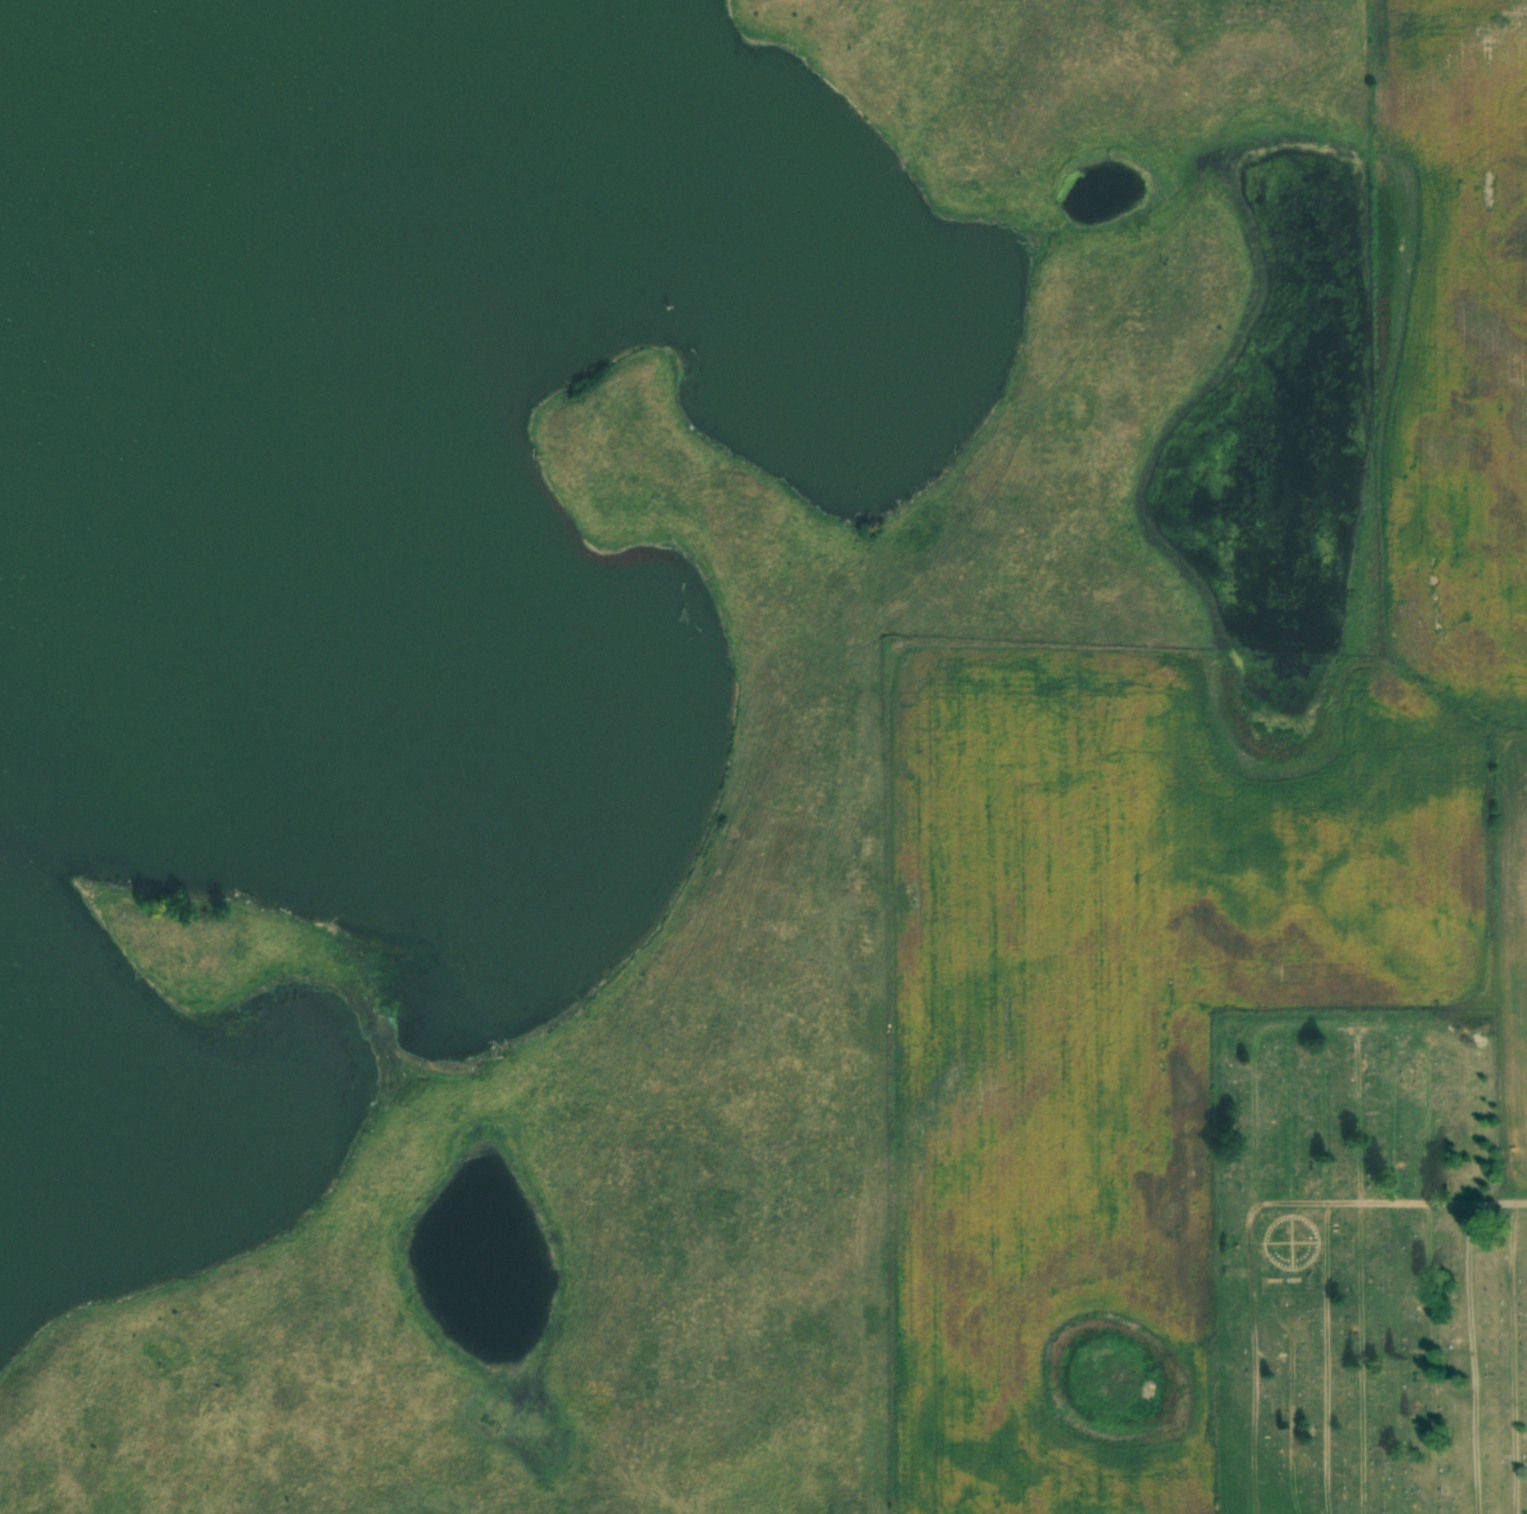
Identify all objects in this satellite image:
road: (1256, 1227)
road: (1477, 1359)

